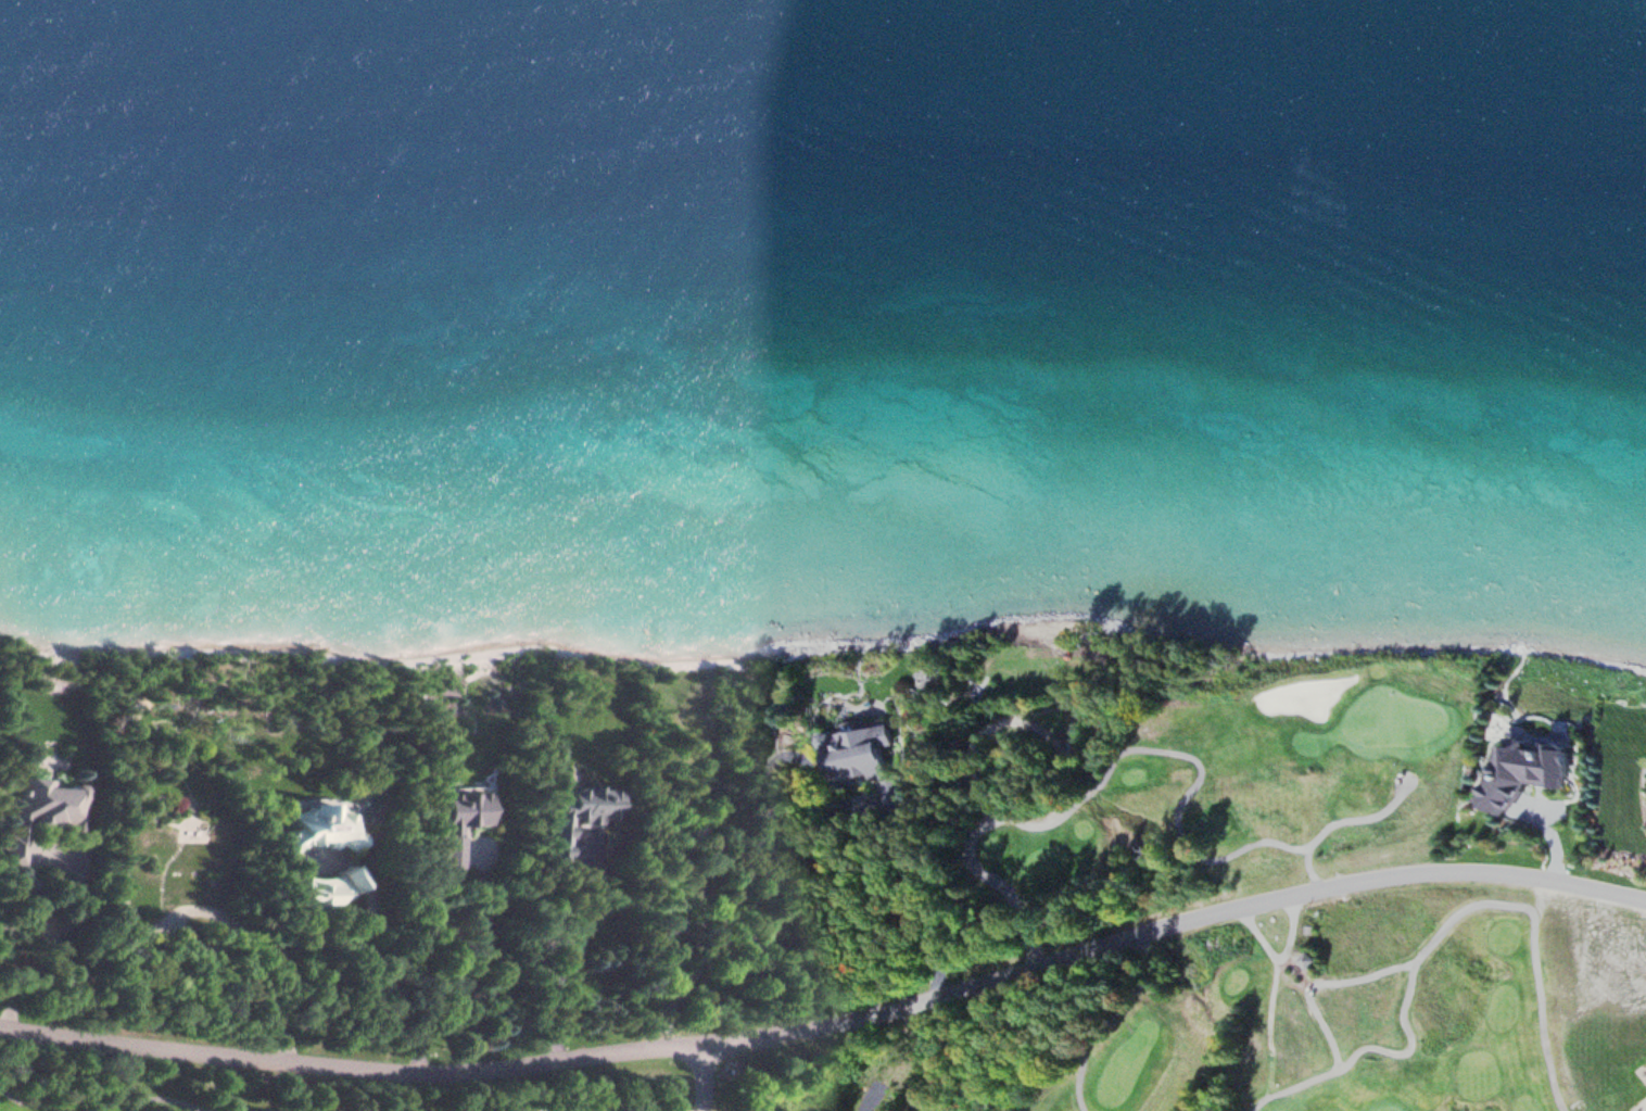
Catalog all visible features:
building: (868, 766)
building: (1525, 772)
building: (578, 811)
building: (38, 812)
building: (458, 824)
building: (317, 826)
building: (326, 889)
road: (1172, 929)
road: (1439, 930)
park: (1155, 931)
building: (1309, 962)
road: (352, 1072)
road: (705, 1077)
road: (873, 1097)
park: (1385, 1109)

